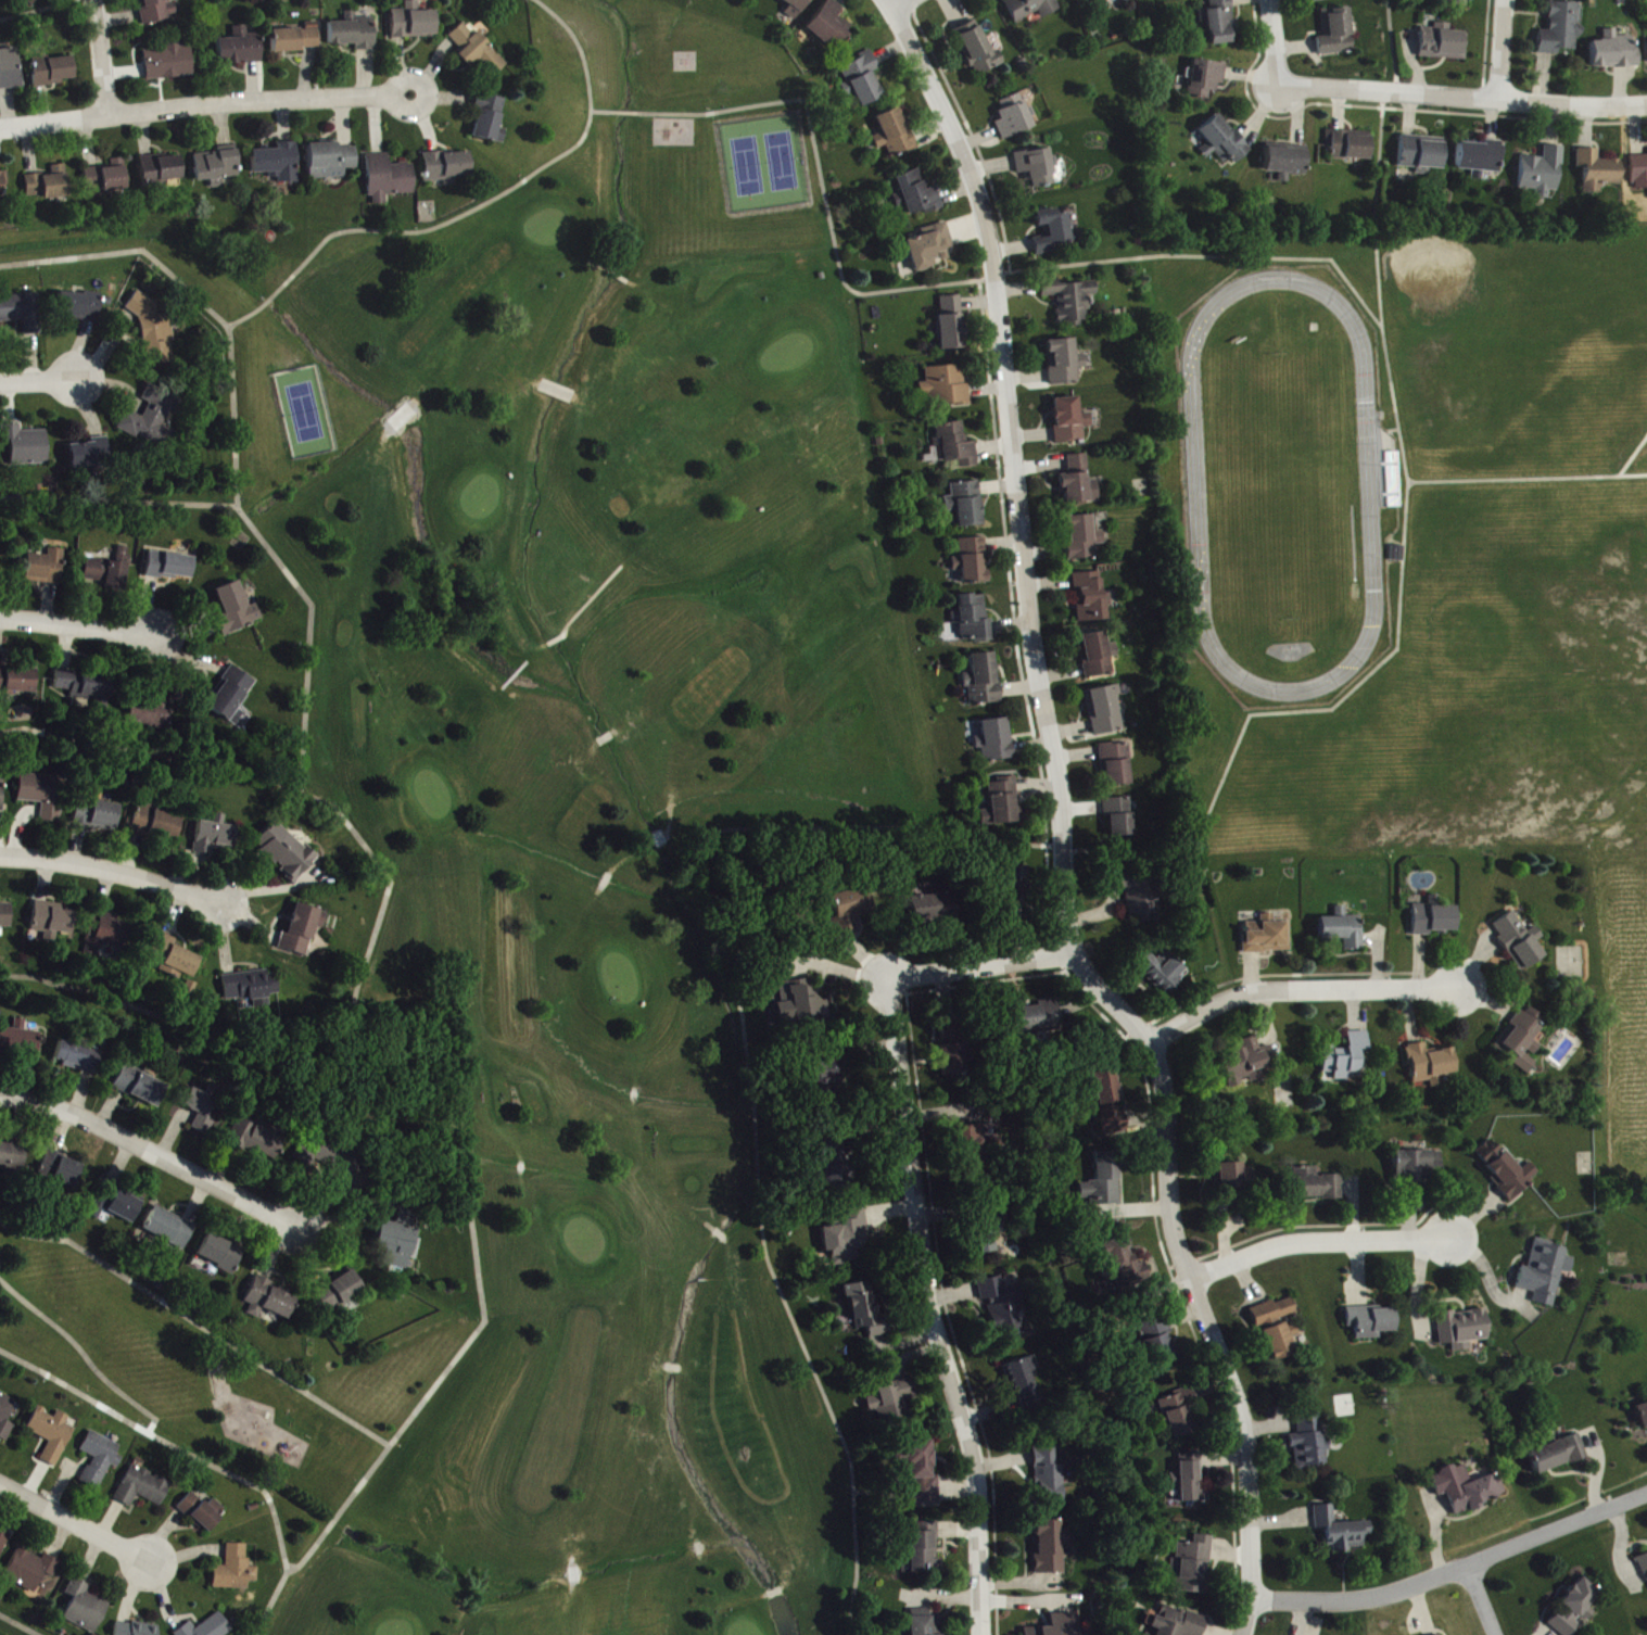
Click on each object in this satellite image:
building: (1089, 0)
building: (34, 1)
building: (1323, 1)
building: (1452, 2)
road: (894, 4)
road: (904, 4)
building: (795, 8)
road: (35, 9)
building: (1032, 9)
building: (159, 11)
building: (1220, 23)
building: (414, 24)
building: (831, 25)
building: (1561, 30)
building: (1336, 34)
building: (354, 36)
building: (299, 40)
road: (1270, 41)
building: (1444, 45)
road: (1391, 47)
building: (241, 49)
building: (978, 50)
road: (1504, 50)
building: (477, 52)
building: (1616, 53)
road: (101, 56)
building: (170, 62)
building: (11, 71)
building: (53, 72)
building: (863, 80)
building: (1206, 80)
road: (1460, 97)
road: (206, 104)
building: (1014, 118)
building: (490, 119)
road: (968, 130)
building: (895, 135)
building: (1224, 143)
building: (1348, 147)
building: (1422, 154)
building: (1480, 160)
building: (332, 162)
building: (279, 164)
building: (1287, 164)
building: (218, 167)
building: (447, 168)
building: (1038, 168)
building: (162, 170)
building: (1599, 173)
building: (1543, 174)
building: (1639, 174)
building: (107, 178)
building: (390, 180)
building: (49, 185)
building: (5, 187)
building: (918, 195)
road: (479, 211)
building: (1053, 232)
building: (930, 248)
road: (929, 283)
building: (1070, 302)
building: (80, 307)
park: (1480, 307)
building: (23, 315)
building: (951, 325)
building: (157, 331)
building: (1065, 364)
road: (40, 380)
building: (945, 386)
building: (154, 419)
building: (1070, 422)
road: (240, 441)
building: (953, 447)
building: (28, 448)
road: (1632, 453)
building: (91, 455)
road: (1526, 477)
building: (1079, 483)
road: (122, 500)
building: (965, 505)
building: (1081, 540)
building: (971, 562)
building: (172, 567)
building: (47, 569)
building: (109, 575)
building: (1090, 598)
building: (237, 610)
building: (973, 620)
road: (79, 624)
building: (1095, 656)
park: (1519, 673)
building: (18, 681)
building: (981, 681)
building: (86, 685)
building: (232, 697)
building: (1104, 711)
building: (149, 715)
building: (994, 743)
building: (1116, 766)
building: (2, 795)
building: (45, 796)
road: (314, 796)
building: (1002, 804)
building: (98, 816)
building: (1118, 817)
building: (156, 823)
road: (1064, 835)
road: (980, 836)
building: (215, 837)
building: (286, 852)
road: (114, 869)
building: (1016, 886)
park: (600, 887)
building: (1138, 897)
building: (933, 907)
building: (849, 911)
building: (5, 917)
building: (1434, 920)
building: (52, 922)
building: (303, 930)
building: (110, 933)
building: (1344, 933)
building: (1269, 937)
building: (1520, 942)
building: (174, 959)
road: (983, 966)
building: (1163, 973)
building: (252, 987)
road: (1302, 989)
building: (801, 1003)
building: (1036, 1019)
building: (1522, 1041)
building: (20, 1044)
building: (952, 1050)
building: (1346, 1057)
building: (79, 1059)
building: (1249, 1063)
building: (1431, 1066)
building: (827, 1075)
building: (140, 1085)
building: (1108, 1103)
building: (201, 1112)
building: (255, 1141)
building: (972, 1150)
road: (153, 1153)
building: (16, 1158)
building: (835, 1166)
building: (1419, 1167)
building: (61, 1170)
building: (1506, 1170)
road: (464, 1181)
building: (1103, 1183)
building: (1231, 1186)
building: (1314, 1187)
building: (116, 1205)
building: (169, 1229)
building: (987, 1238)
road: (1320, 1238)
building: (400, 1239)
building: (846, 1239)
road: (2, 1255)
building: (220, 1255)
building: (1122, 1266)
building: (1546, 1273)
building: (340, 1292)
building: (269, 1302)
road: (932, 1308)
building: (1003, 1309)
building: (865, 1310)
building: (1275, 1314)
road: (197, 1322)
building: (1372, 1323)
building: (1464, 1330)
building: (1281, 1342)
building: (1162, 1352)
road: (83, 1354)
park: (179, 1382)
building: (1024, 1385)
building: (890, 1399)
building: (1178, 1415)
building: (1643, 1417)
building: (7, 1418)
building: (52, 1435)
road: (167, 1440)
building: (1309, 1443)
building: (1560, 1456)
building: (100, 1460)
building: (921, 1476)
building: (1049, 1479)
building: (1191, 1481)
building: (143, 1490)
building: (1468, 1491)
building: (203, 1513)
road: (76, 1521)
building: (1342, 1532)
building: (3, 1544)
building: (1051, 1548)
building: (924, 1554)
building: (1644, 1566)
building: (1193, 1567)
road: (1456, 1570)
building: (31, 1571)
building: (237, 1571)
road: (1482, 1600)
building: (85, 1609)
building: (1576, 1609)
building: (924, 1623)
road: (18, 1624)
building: (1180, 1624)
building: (1060, 1626)
building: (210, 1627)
building: (135, 1630)

